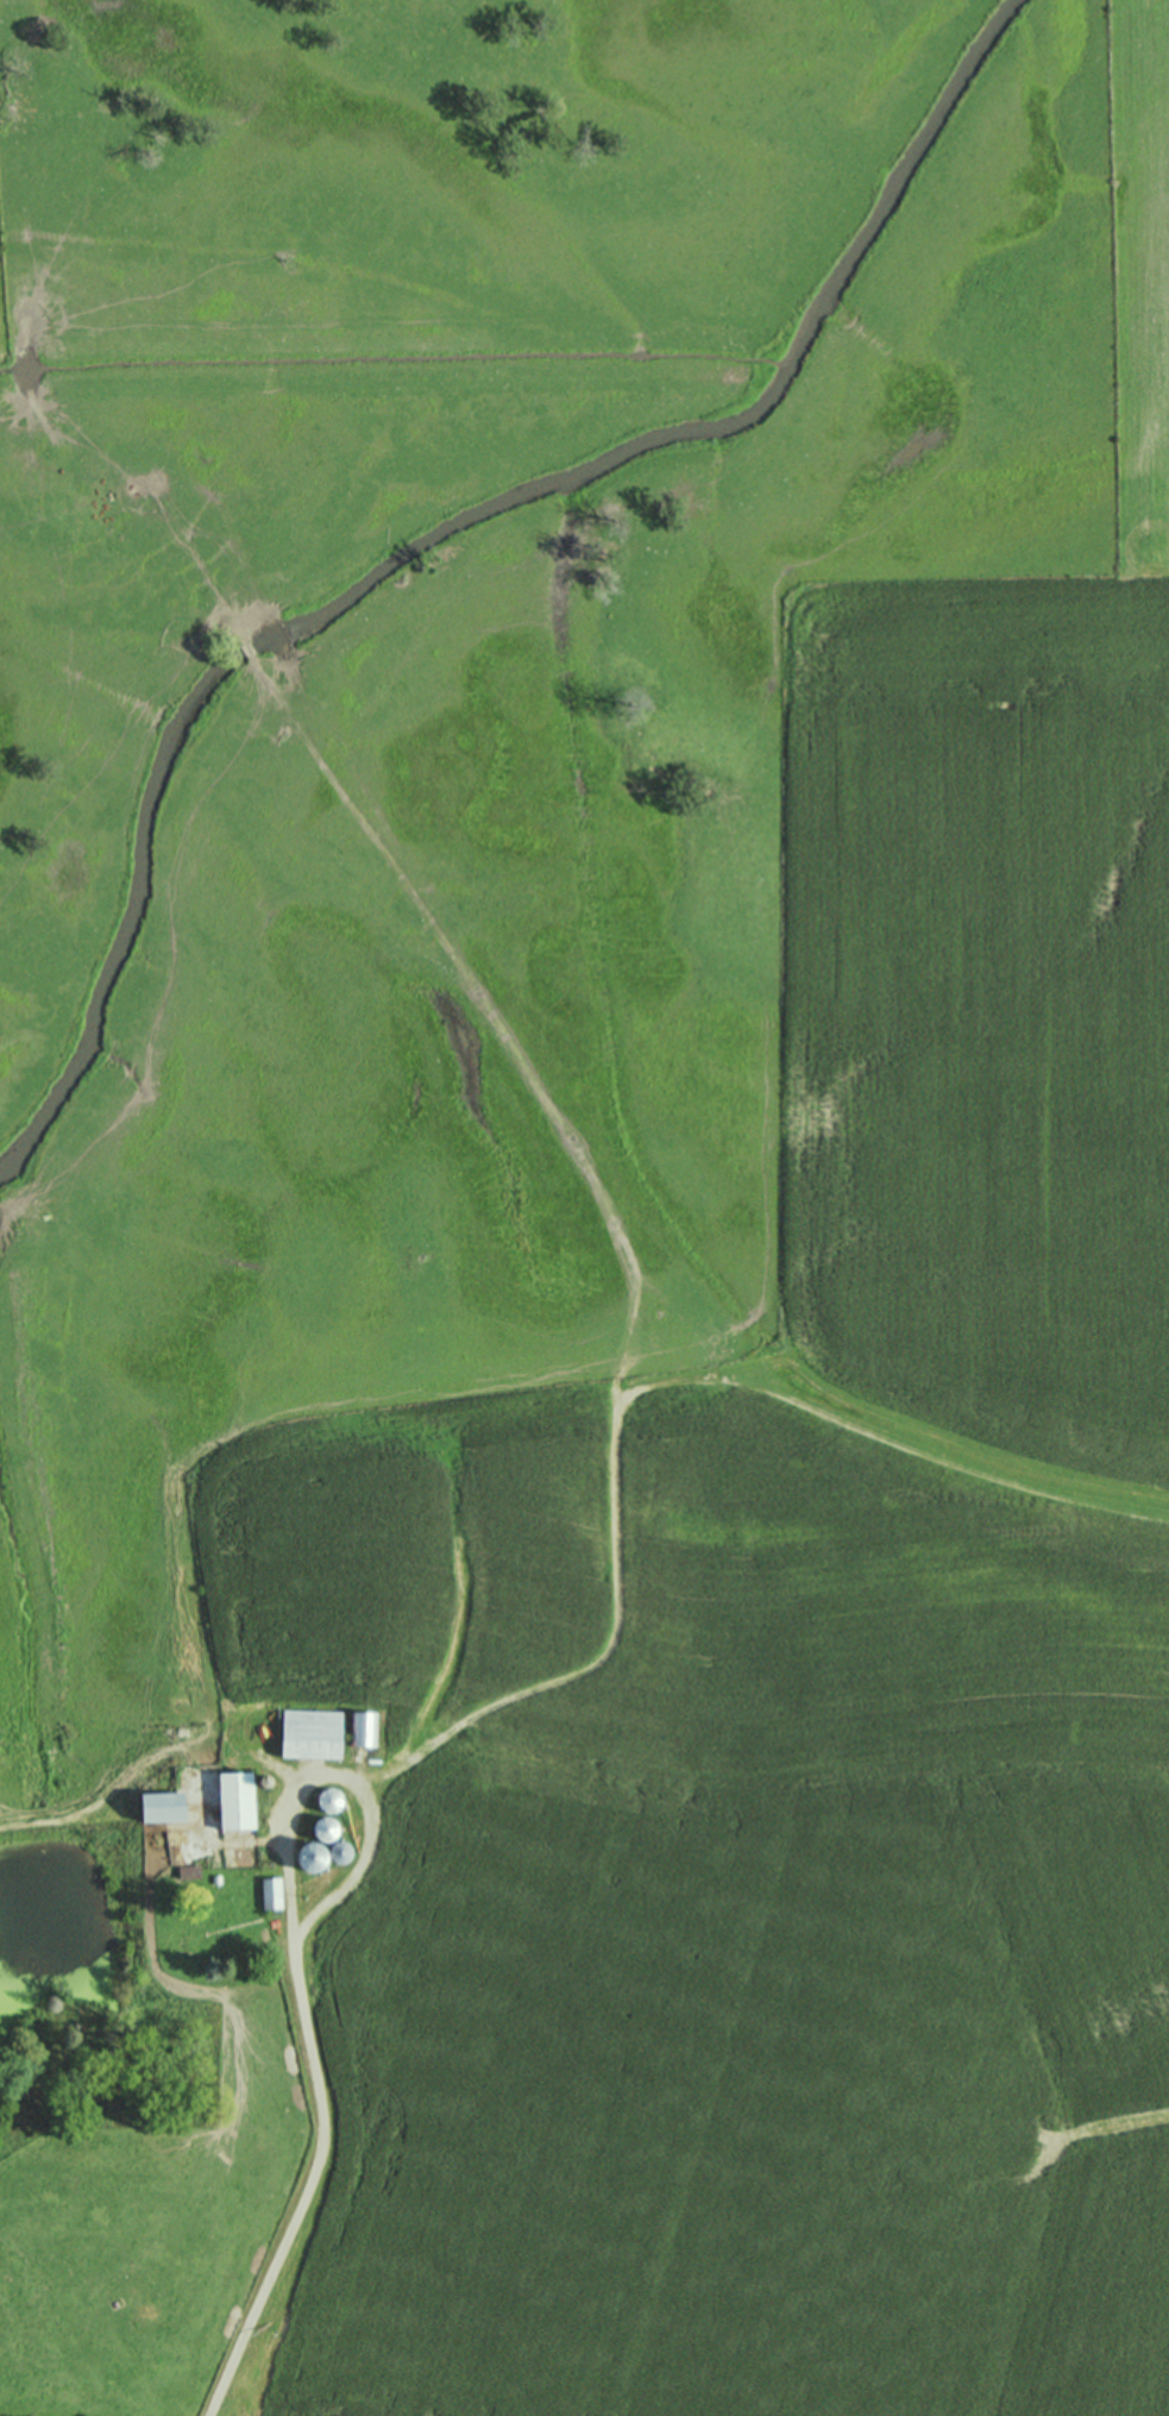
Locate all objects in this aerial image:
river: (446, 529)
building: (363, 1726)
building: (312, 1732)
building: (329, 1797)
building: (237, 1799)
building: (164, 1805)
building: (326, 1827)
building: (341, 1850)
building: (306, 1859)
building: (270, 1891)

